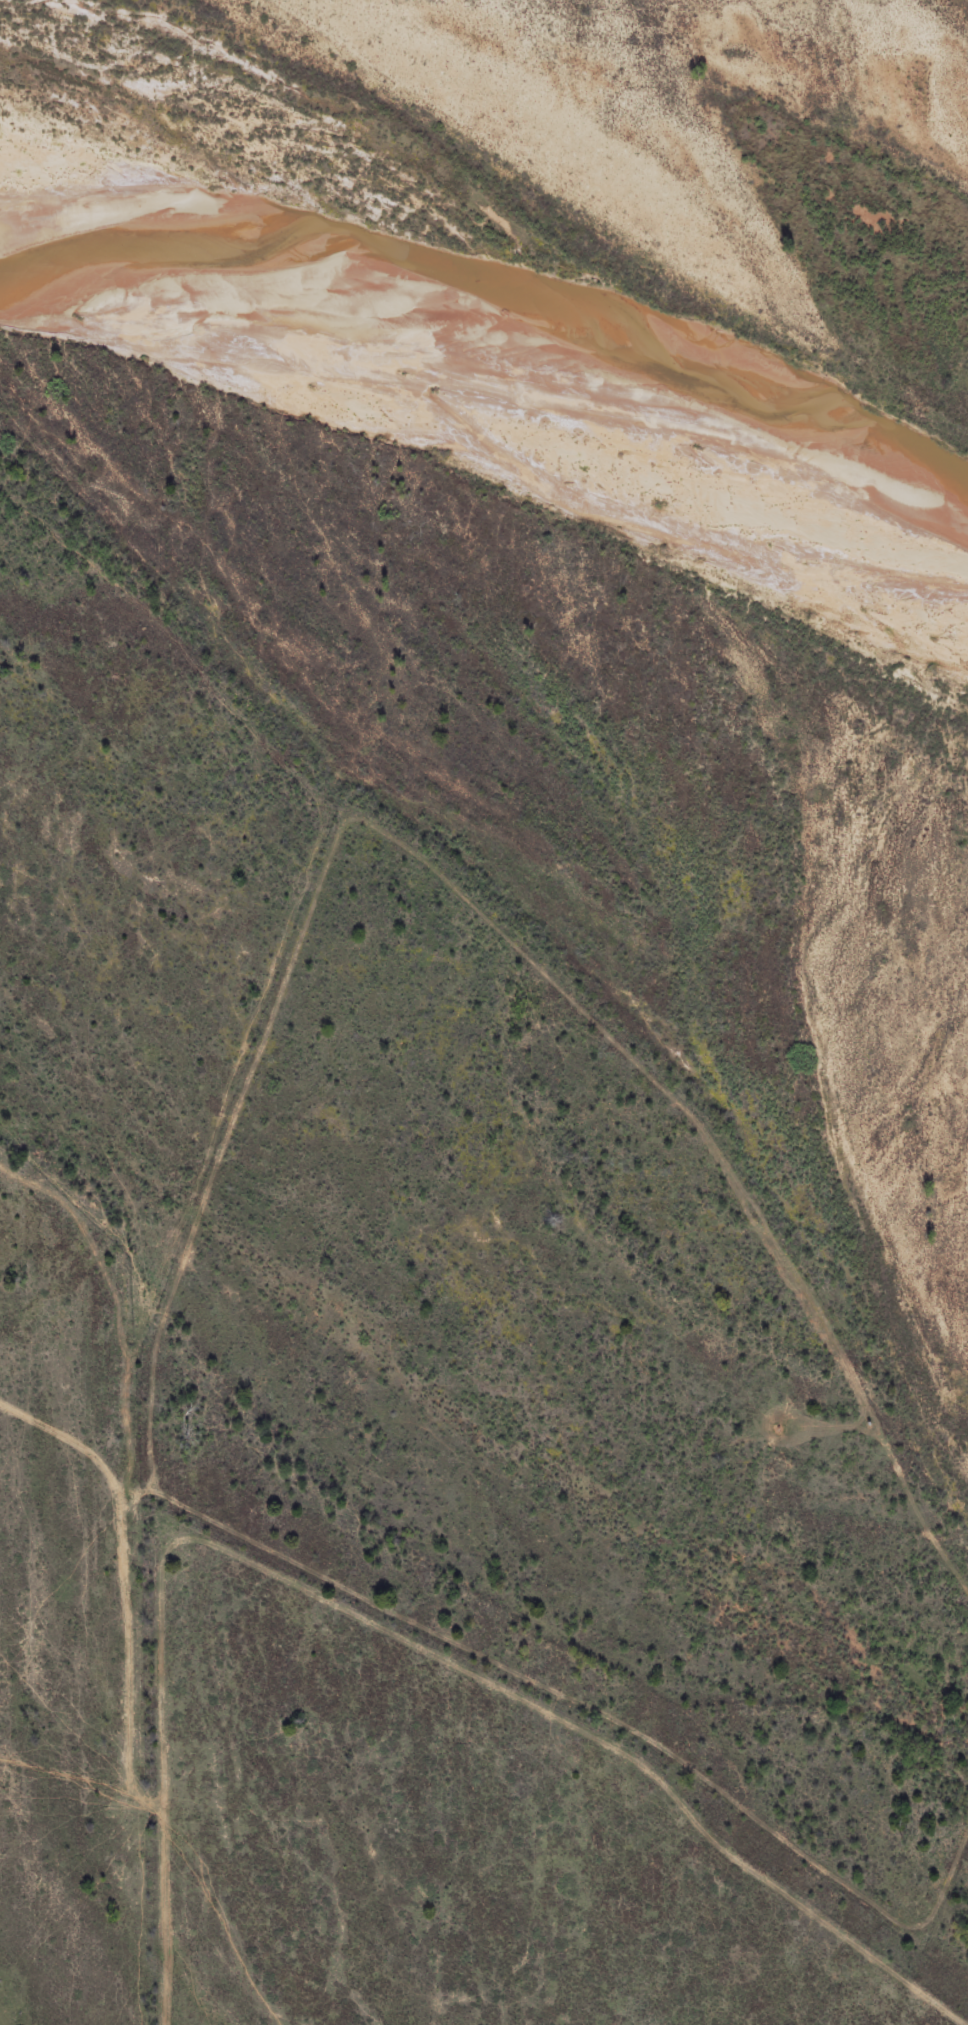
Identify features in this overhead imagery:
river: (518, 407)

